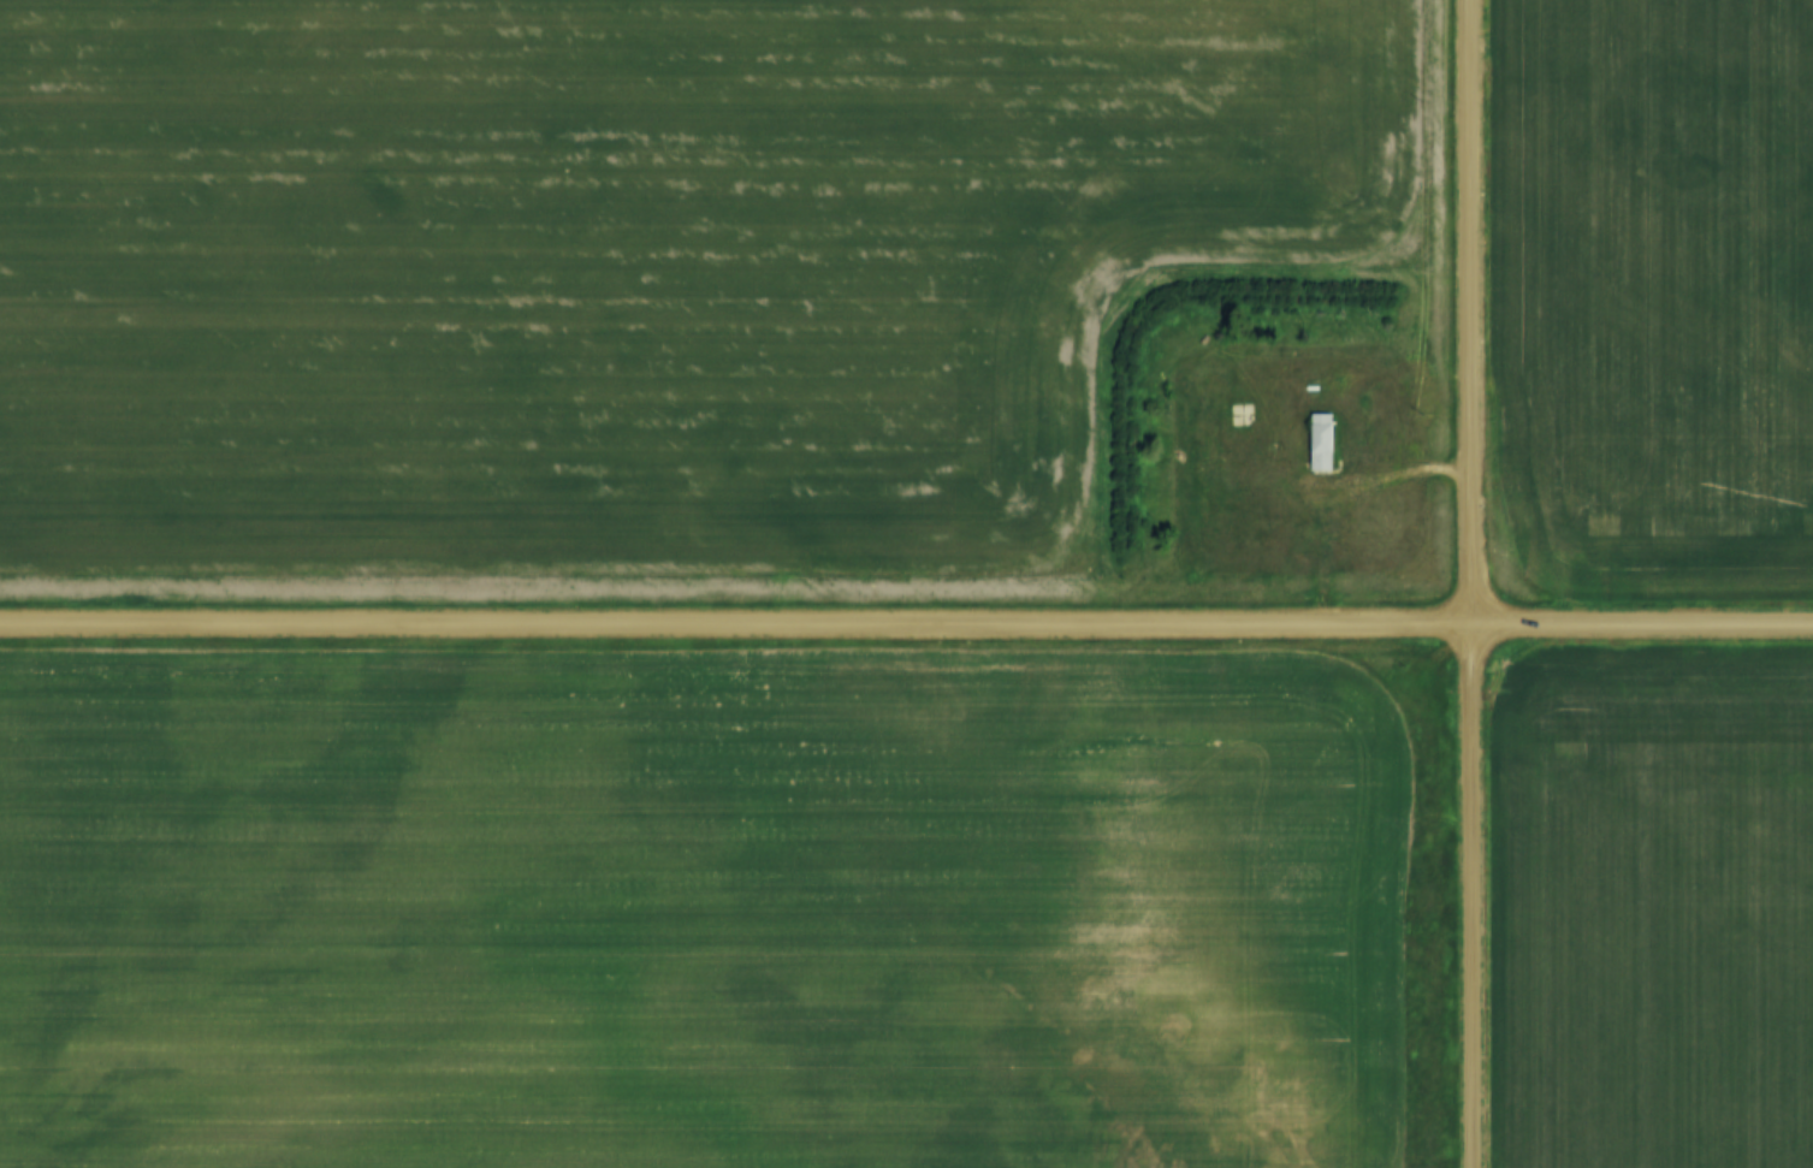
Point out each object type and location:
building: (1325, 440)
road: (1346, 500)
road: (1471, 583)
road: (906, 623)

